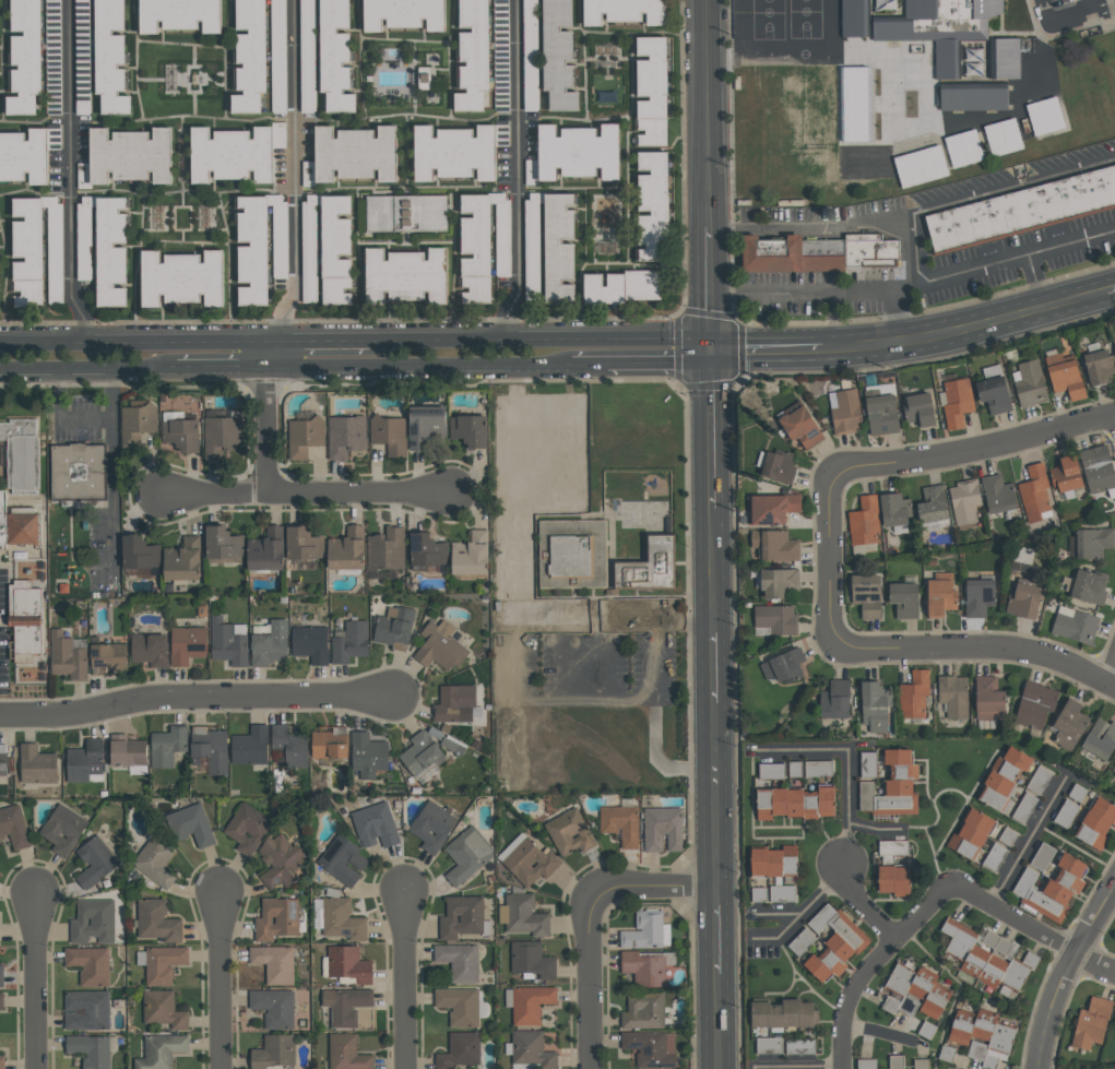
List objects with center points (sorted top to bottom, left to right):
building: (886, 3)
road: (1084, 3)
building: (622, 11)
road: (1071, 11)
building: (403, 14)
building: (180, 15)
building: (854, 19)
building: (940, 27)
building: (308, 48)
building: (501, 55)
building: (558, 55)
building: (278, 56)
building: (473, 56)
building: (25, 57)
building: (110, 57)
building: (250, 57)
building: (335, 57)
building: (1004, 58)
building: (972, 69)
building: (869, 74)
building: (788, 76)
building: (806, 76)
building: (823, 76)
building: (841, 76)
building: (424, 78)
building: (651, 90)
building: (870, 92)
building: (973, 98)
building: (82, 108)
building: (871, 109)
road: (707, 112)
building: (1045, 116)
building: (874, 127)
building: (1004, 136)
building: (963, 149)
building: (579, 151)
building: (454, 152)
building: (235, 153)
building: (352, 154)
building: (24, 155)
building: (128, 156)
building: (856, 163)
building: (920, 166)
road: (515, 171)
building: (531, 171)
road: (294, 173)
road: (67, 174)
building: (652, 204)
building: (1021, 210)
building: (406, 213)
road: (915, 213)
building: (308, 225)
building: (483, 245)
building: (532, 245)
building: (260, 246)
building: (559, 247)
road: (914, 249)
building: (335, 250)
building: (110, 251)
building: (37, 252)
building: (818, 253)
building: (405, 275)
building: (182, 277)
road: (1034, 281)
road: (915, 283)
building: (622, 286)
road: (709, 288)
road: (1112, 292)
road: (901, 316)
road: (832, 320)
road: (966, 328)
road: (539, 338)
road: (317, 341)
road: (131, 342)
road: (766, 351)
traffic signals: (709, 352)
road: (264, 353)
road: (659, 363)
road: (221, 364)
road: (417, 364)
road: (589, 364)
building: (1099, 366)
road: (88, 367)
building: (1065, 376)
building: (1029, 383)
building: (879, 390)
building: (994, 394)
building: (957, 400)
building: (920, 408)
building: (846, 412)
building: (216, 413)
building: (881, 415)
road: (83, 419)
building: (137, 423)
building: (425, 426)
building: (802, 427)
road: (710, 429)
road: (265, 430)
building: (468, 430)
building: (181, 433)
building: (389, 433)
building: (305, 435)
building: (345, 435)
building: (221, 437)
road: (973, 448)
building: (21, 455)
building: (778, 466)
building: (1096, 471)
building: (78, 472)
road: (112, 473)
building: (1066, 474)
building: (1034, 492)
building: (998, 495)
road: (301, 496)
building: (964, 501)
building: (933, 504)
building: (773, 508)
building: (894, 509)
building: (17, 524)
building: (866, 525)
building: (225, 543)
building: (305, 543)
building: (1095, 544)
building: (776, 545)
building: (348, 549)
building: (388, 549)
building: (268, 550)
building: (429, 550)
building: (141, 554)
building: (572, 554)
building: (473, 555)
road: (828, 559)
building: (185, 560)
road: (712, 563)
building: (654, 567)
building: (781, 582)
building: (1092, 586)
building: (868, 595)
building: (944, 595)
building: (981, 597)
building: (908, 599)
building: (1027, 601)
building: (26, 619)
building: (778, 619)
building: (1077, 625)
building: (395, 627)
parking lot: (3, 632)
building: (229, 641)
building: (352, 642)
building: (311, 643)
building: (188, 644)
building: (272, 644)
building: (441, 646)
road: (981, 646)
building: (151, 649)
building: (69, 655)
building: (108, 656)
road: (605, 661)
road: (652, 661)
road: (713, 661)
road: (561, 662)
building: (786, 666)
road: (1110, 670)
road: (514, 693)
building: (915, 693)
road: (192, 696)
building: (954, 696)
building: (991, 698)
building: (838, 699)
building: (455, 703)
building: (1036, 704)
building: (878, 705)
parking lot: (494, 706)
building: (1072, 724)
building: (1102, 738)
building: (332, 743)
building: (168, 745)
building: (251, 746)
building: (290, 746)
building: (453, 746)
building: (211, 748)
building: (130, 749)
building: (423, 751)
building: (369, 753)
road: (846, 759)
building: (4, 760)
building: (86, 761)
building: (38, 763)
building: (869, 763)
building: (820, 768)
building: (796, 769)
building: (772, 770)
building: (1006, 776)
building: (1041, 779)
building: (894, 786)
building: (1079, 792)
road: (714, 798)
building: (798, 801)
building: (1025, 807)
building: (1068, 812)
building: (1099, 821)
building: (621, 823)
building: (190, 824)
building: (376, 824)
building: (14, 825)
building: (432, 825)
road: (871, 827)
building: (248, 828)
building: (664, 828)
building: (63, 829)
building: (569, 831)
building: (974, 833)
building: (1009, 835)
road: (1023, 844)
building: (467, 854)
building: (1044, 855)
building: (997, 856)
building: (343, 859)
building: (529, 859)
building: (96, 860)
building: (156, 860)
building: (282, 860)
building: (778, 860)
building: (895, 867)
building: (1054, 887)
building: (784, 892)
road: (652, 893)
building: (760, 893)
road: (864, 905)
road: (800, 911)
road: (773, 913)
building: (524, 914)
building: (462, 916)
building: (277, 917)
road: (924, 917)
building: (340, 918)
building: (93, 920)
building: (157, 920)
road: (1010, 924)
building: (645, 929)
building: (826, 933)
road: (714, 934)
building: (802, 940)
building: (837, 941)
building: (998, 942)
building: (533, 959)
building: (987, 959)
building: (460, 961)
building: (162, 962)
building: (275, 962)
building: (90, 963)
building: (347, 964)
road: (1092, 964)
building: (645, 967)
road: (1064, 971)
building: (2, 974)
road: (590, 981)
road: (223, 983)
road: (403, 984)
road: (34, 985)
building: (916, 991)
road: (849, 997)
building: (2, 1000)
building: (532, 1002)
building: (346, 1005)
building: (460, 1005)
building: (275, 1007)
building: (164, 1008)
building: (87, 1009)
building: (644, 1010)
building: (786, 1012)
road: (715, 1021)
building: (1093, 1022)
building: (927, 1030)
building: (983, 1034)
building: (771, 1045)
building: (802, 1046)
building: (652, 1048)
building: (91, 1049)
building: (532, 1049)
building: (162, 1050)
building: (460, 1050)
building: (275, 1052)
building: (347, 1053)
building: (948, 1053)
building: (2, 1061)
building: (897, 1061)
building: (866, 1064)
building: (920, 1064)
road: (795, 1066)

